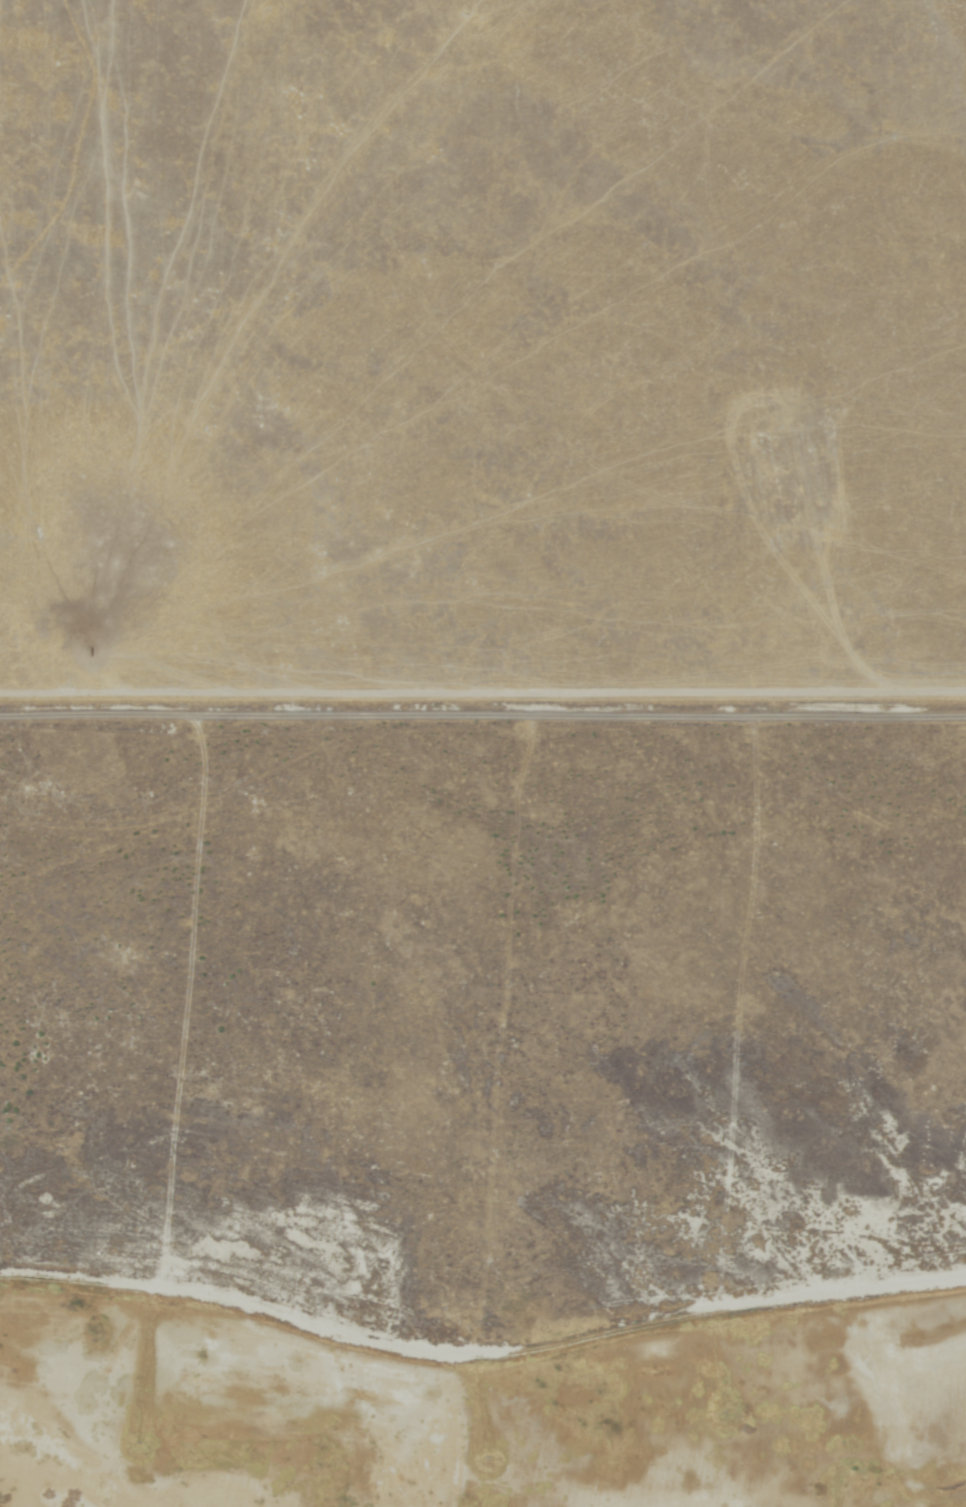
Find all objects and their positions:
road: (483, 711)

